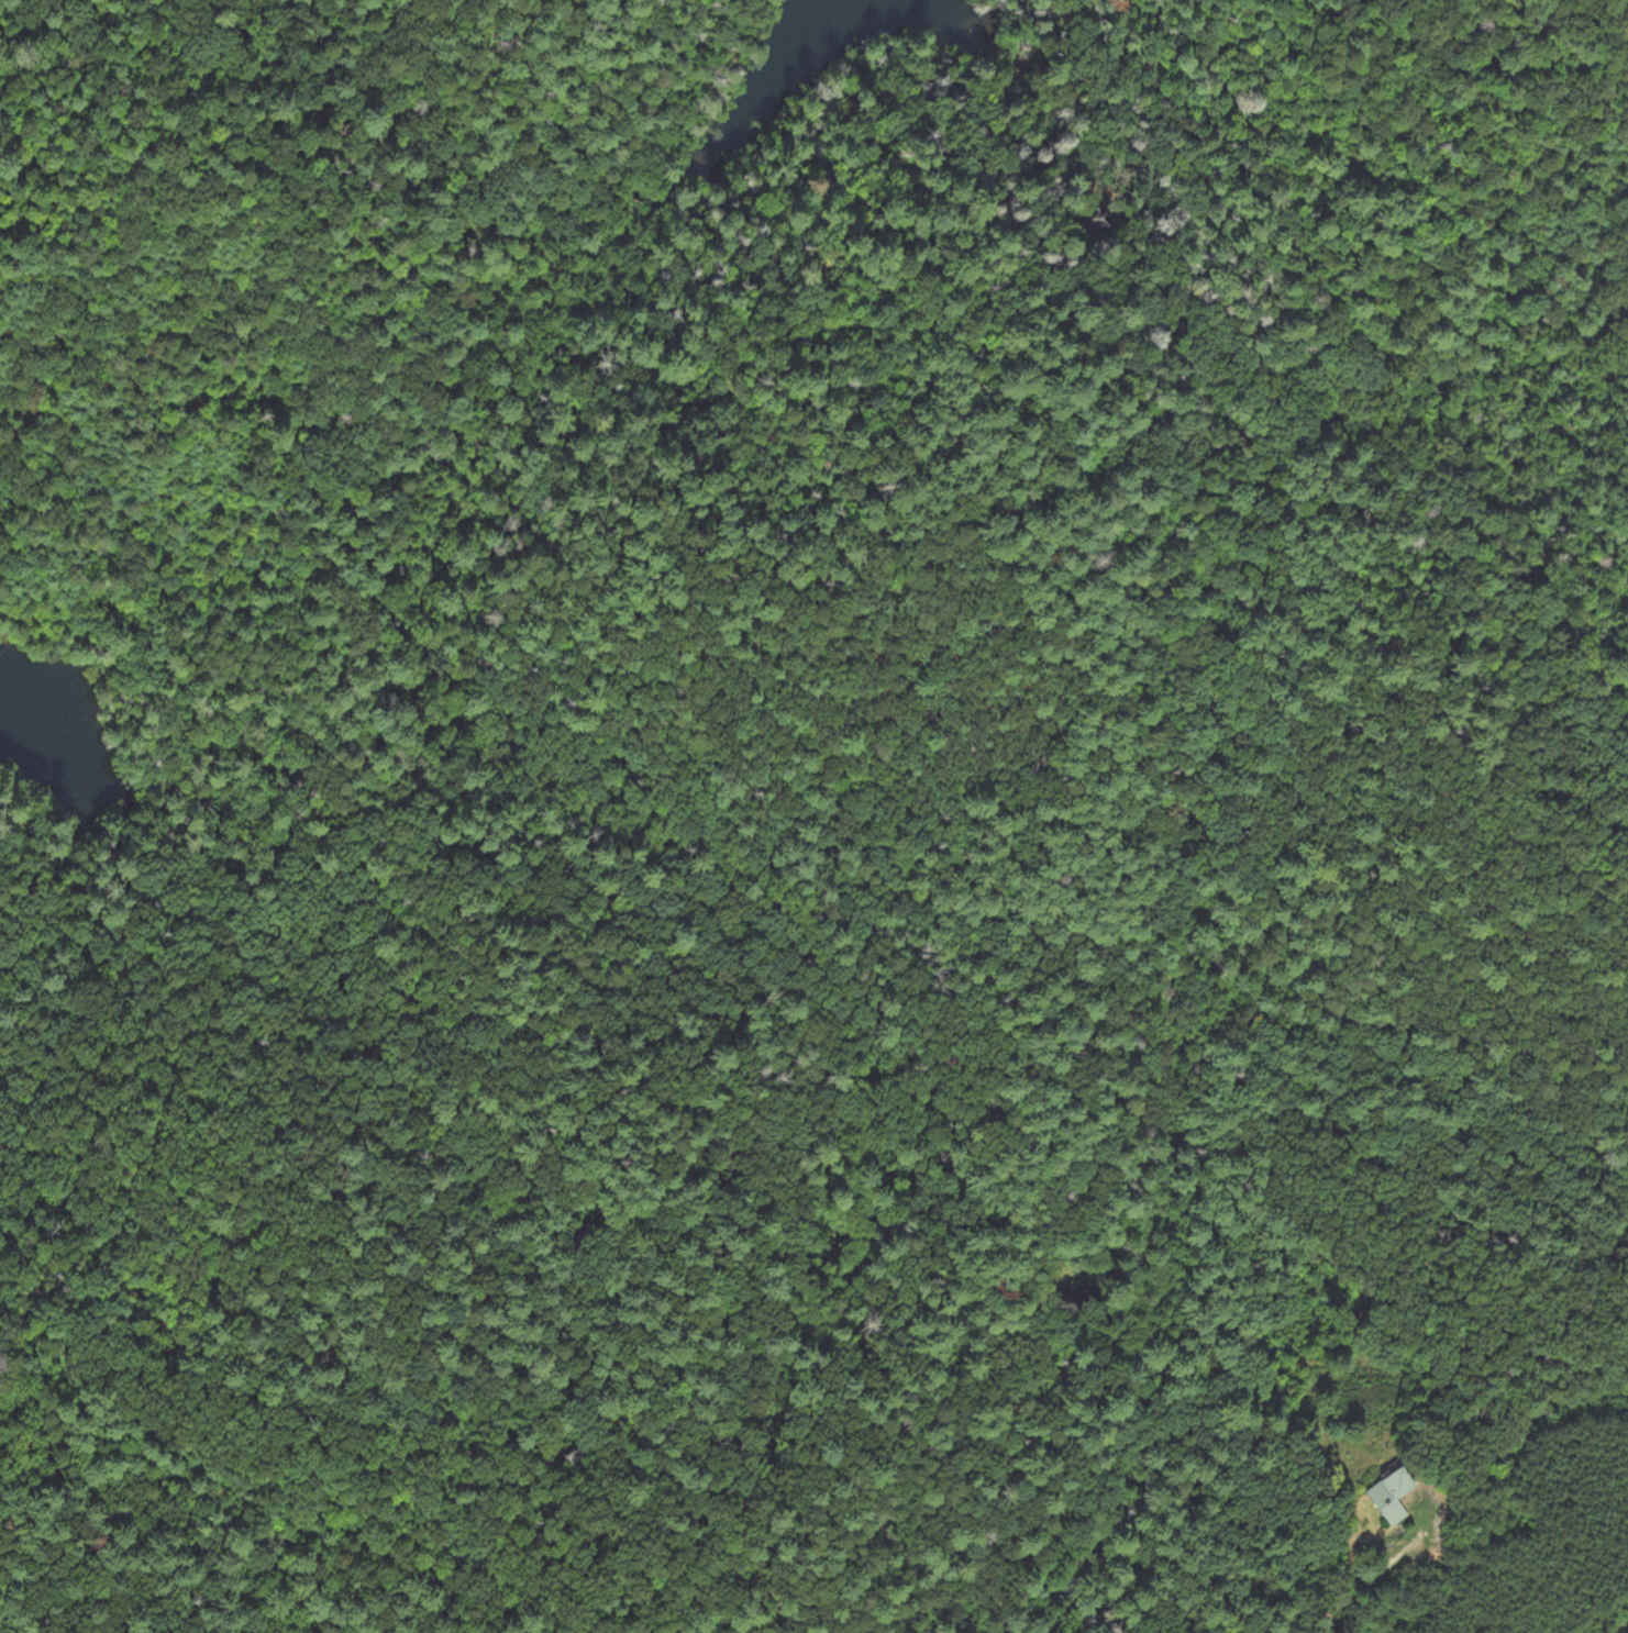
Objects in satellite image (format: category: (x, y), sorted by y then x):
road: (1552, 1382)
building: (1392, 1497)
road: (1342, 1576)

